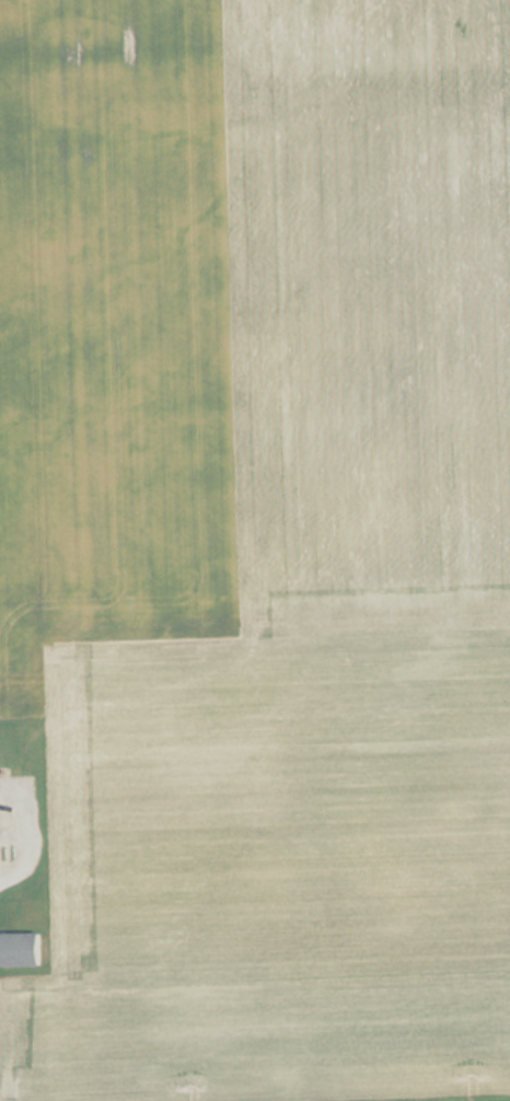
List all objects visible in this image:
building: (19, 950)

